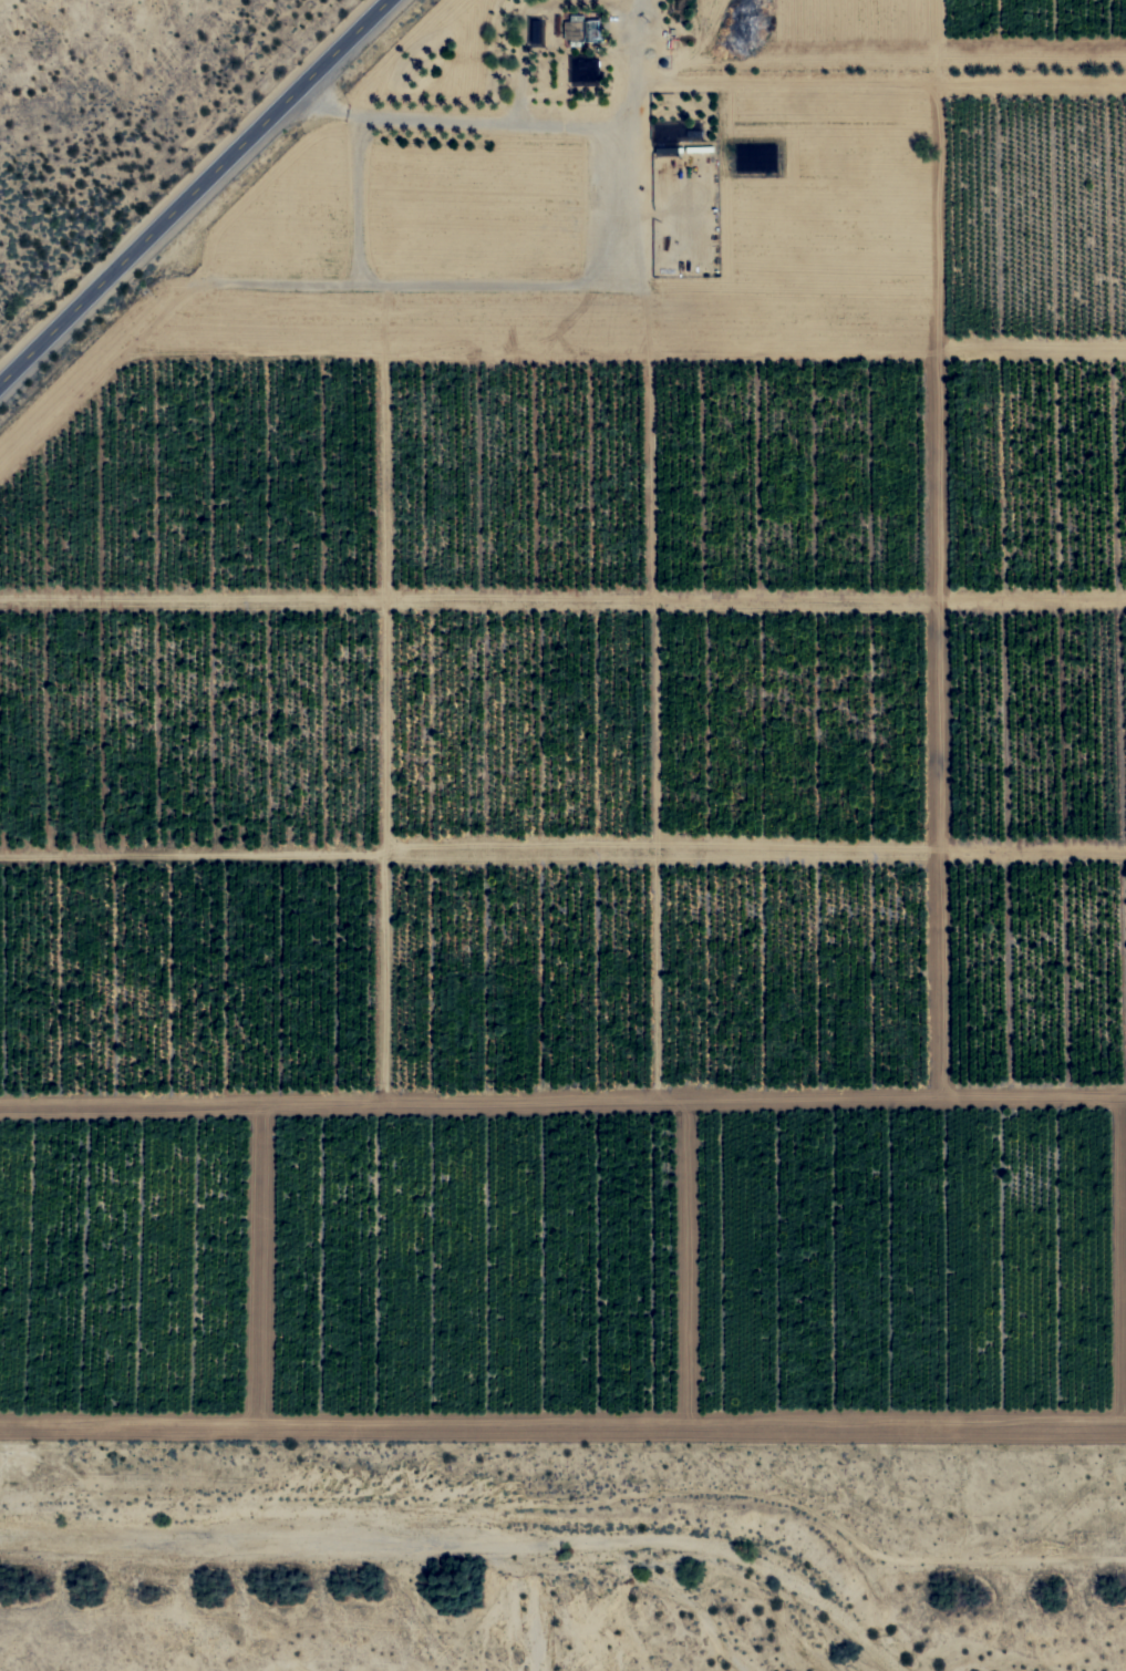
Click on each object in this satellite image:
building: (667, 140)
road: (190, 187)
crop: (591, 854)

